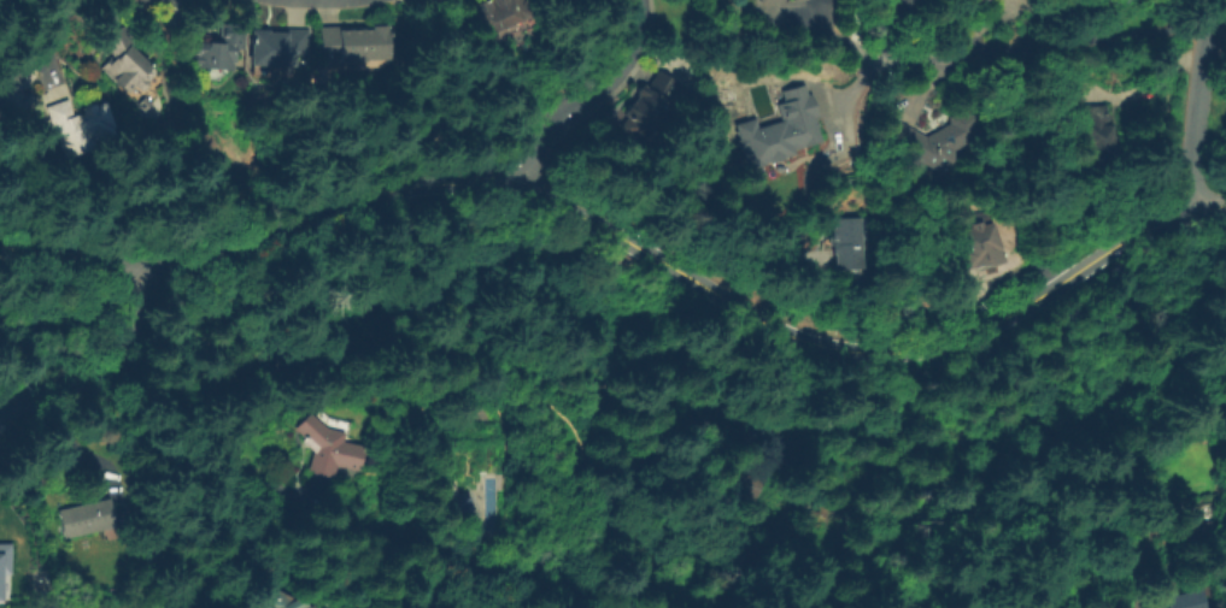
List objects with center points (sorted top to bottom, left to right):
building: (545, 1)
building: (499, 10)
road: (890, 25)
road: (43, 42)
building: (356, 45)
building: (278, 48)
road: (1038, 48)
building: (222, 49)
building: (131, 64)
road: (1144, 85)
building: (11, 92)
road: (586, 98)
road: (1196, 105)
building: (651, 106)
road: (888, 106)
building: (78, 123)
building: (780, 129)
building: (1095, 131)
building: (934, 135)
road: (1210, 207)
road: (616, 234)
building: (849, 238)
building: (979, 246)
road: (110, 372)
building: (12, 405)
building: (328, 442)
building: (761, 476)
building: (87, 514)
building: (835, 516)
building: (1203, 526)
building: (4, 557)
building: (281, 598)
building: (1184, 598)

